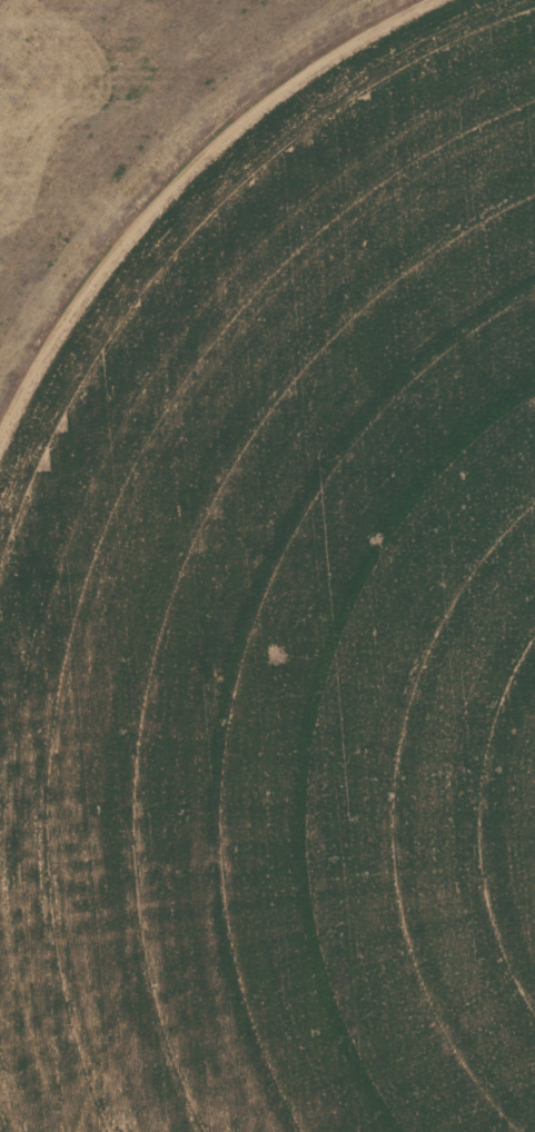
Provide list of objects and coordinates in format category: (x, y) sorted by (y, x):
crop: (256, 607)

